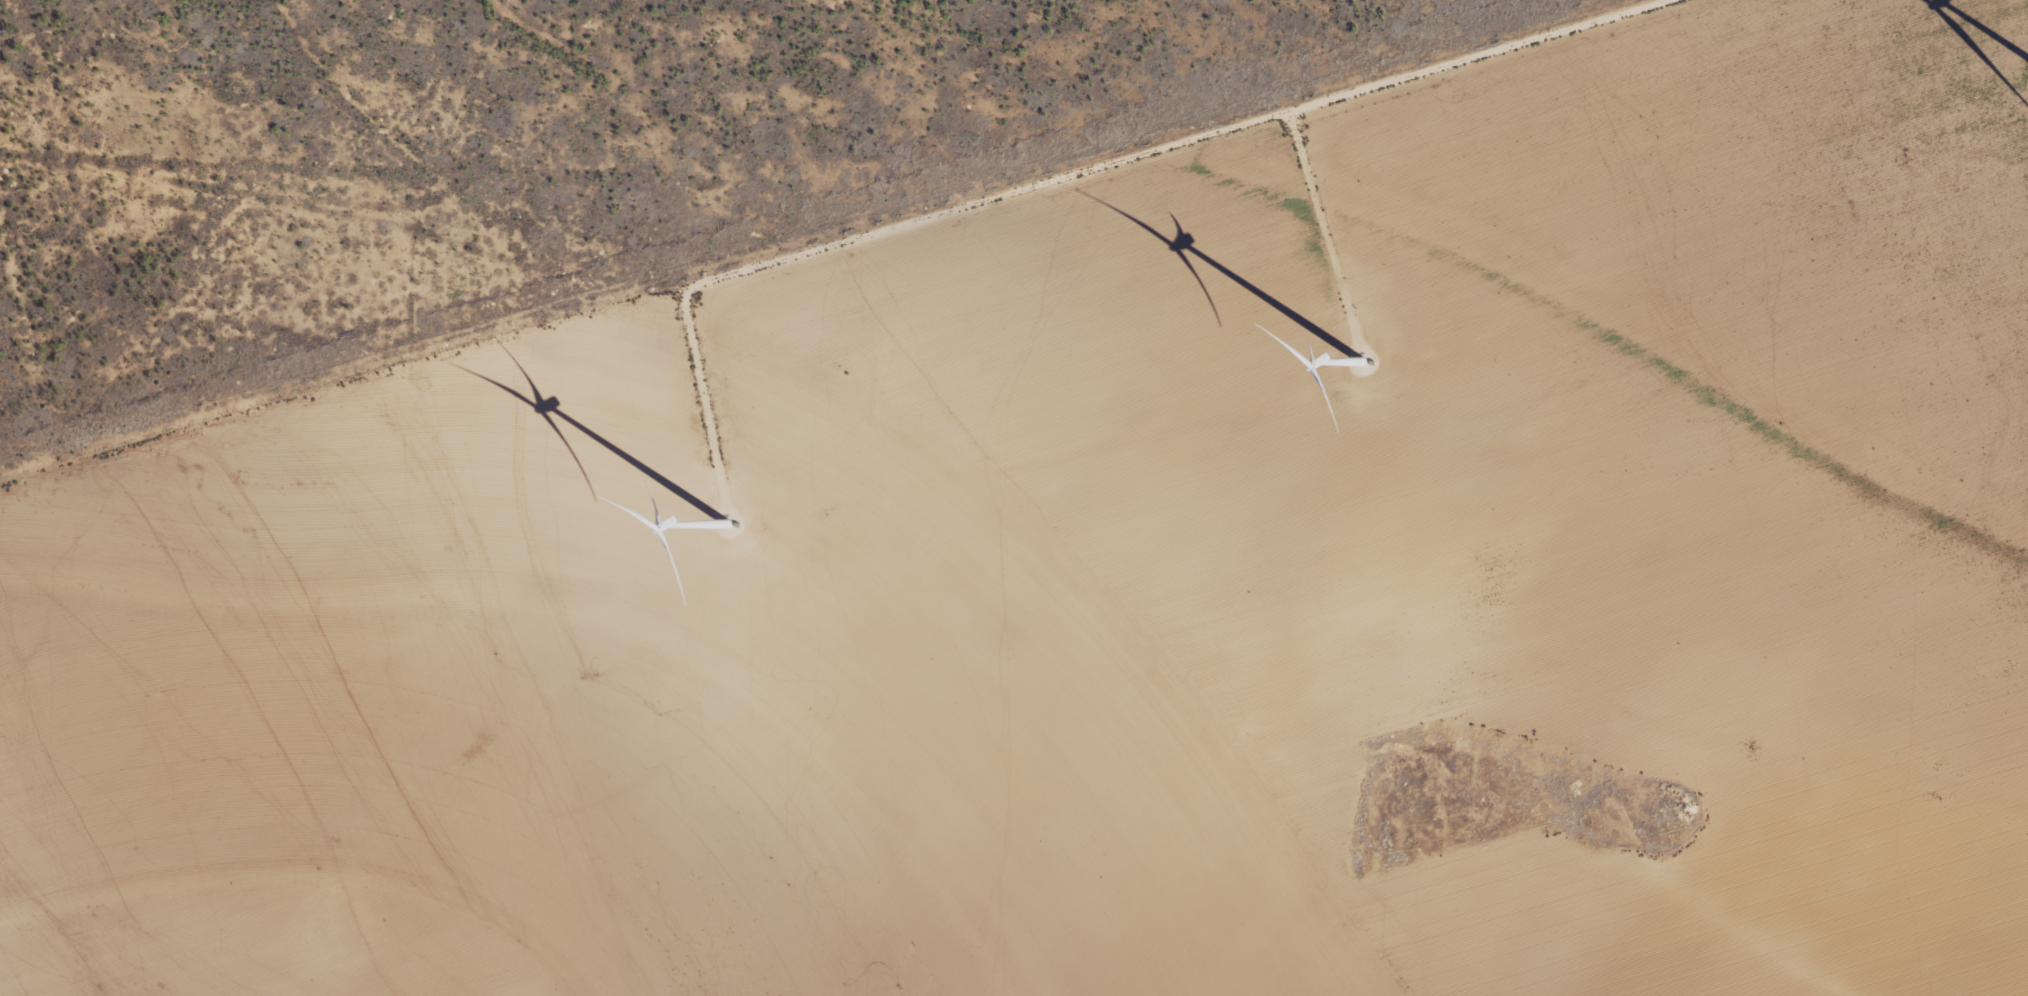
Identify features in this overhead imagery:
wind turbine: (1358, 361)
wind turbine: (721, 529)

